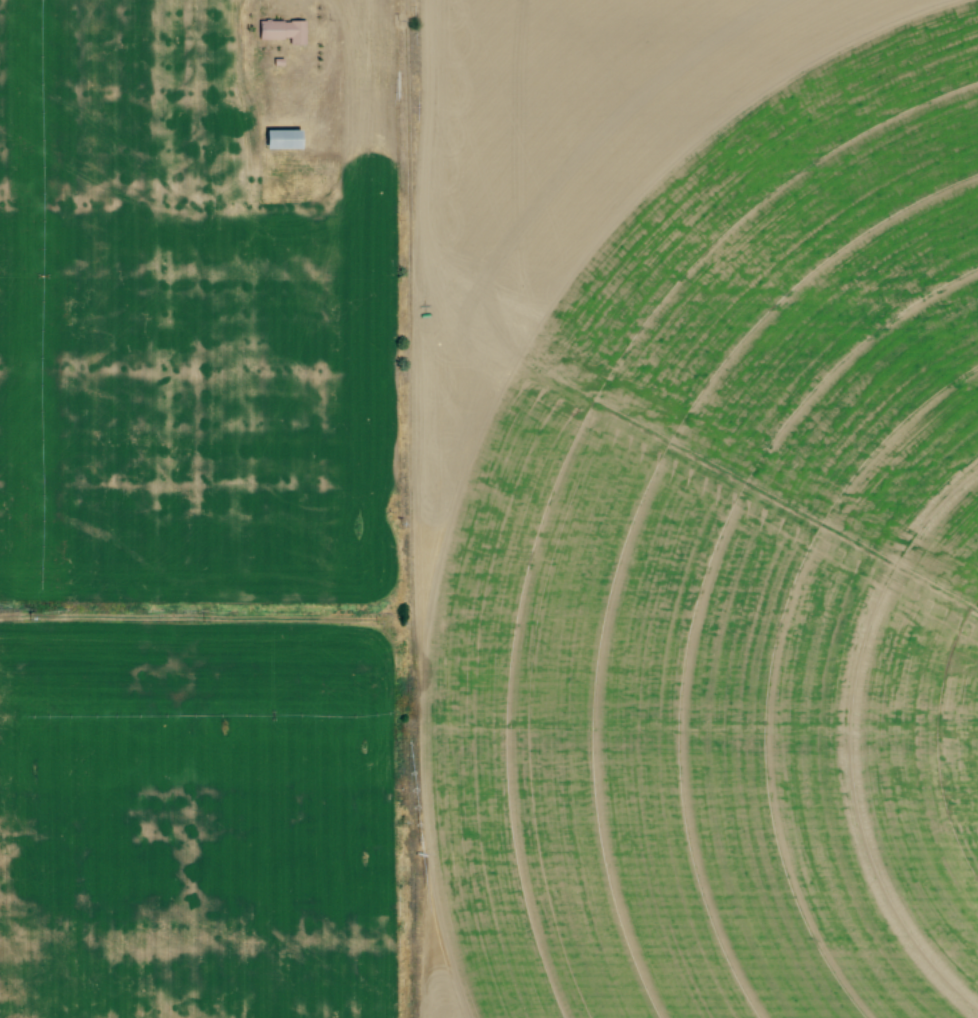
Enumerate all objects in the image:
building: (282, 30)
building: (281, 139)

